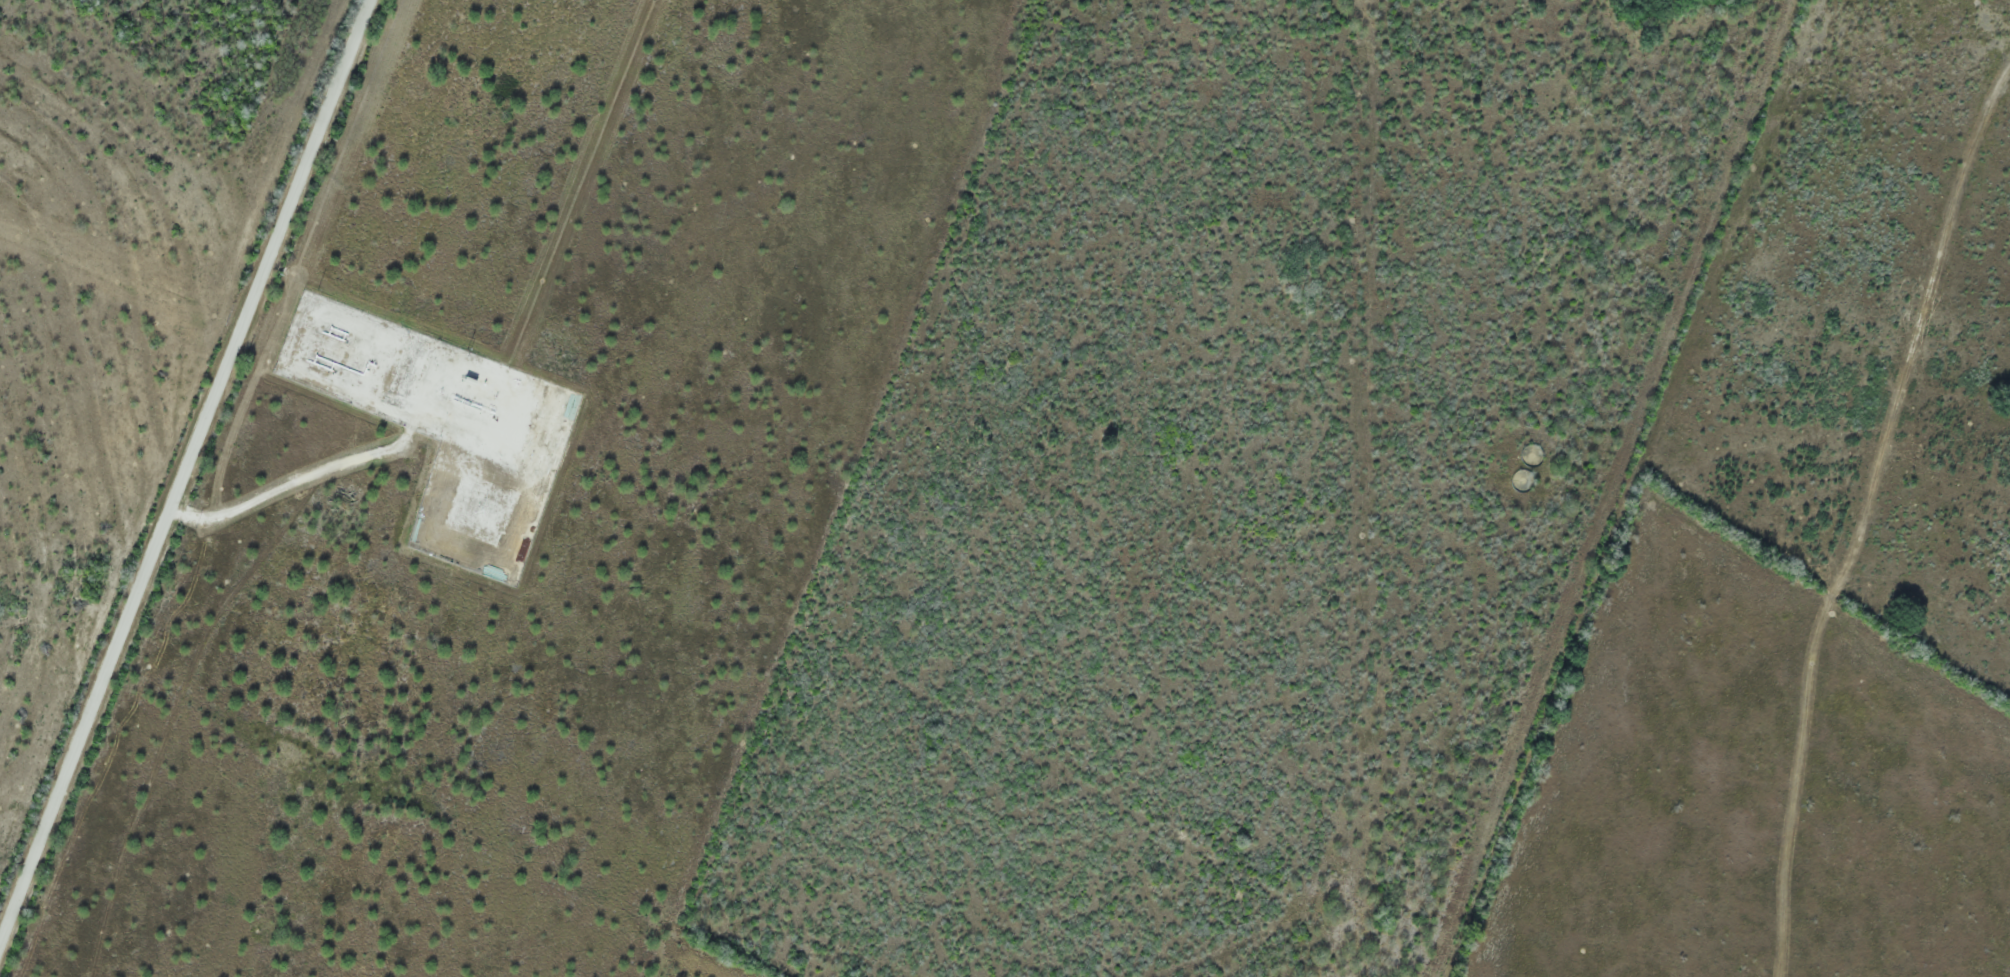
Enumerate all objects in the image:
road: (187, 471)

